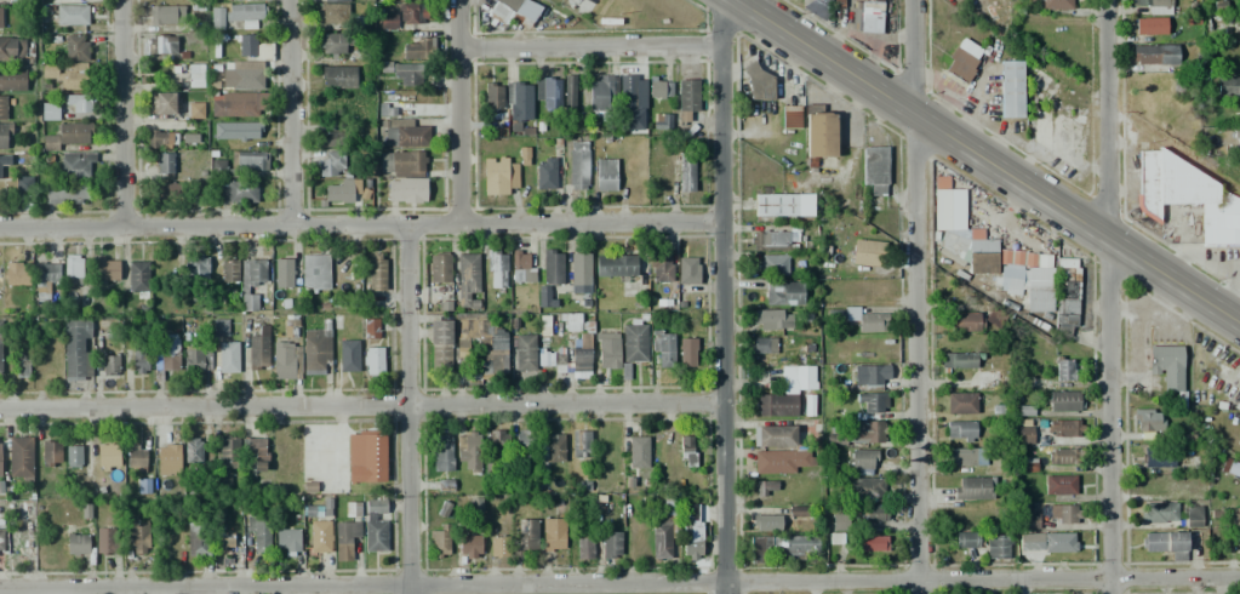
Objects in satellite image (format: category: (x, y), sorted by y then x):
building: (12, 1)
building: (67, 1)
building: (1233, 1)
building: (836, 2)
building: (1055, 4)
building: (819, 5)
building: (1239, 5)
building: (1155, 6)
building: (245, 11)
building: (333, 11)
building: (512, 11)
building: (411, 13)
building: (72, 15)
building: (165, 15)
building: (0, 17)
building: (867, 17)
building: (216, 18)
building: (388, 22)
building: (1150, 25)
building: (1239, 30)
building: (332, 42)
road: (595, 42)
building: (161, 44)
building: (246, 45)
building: (75, 47)
building: (12, 48)
building: (416, 50)
building: (1154, 58)
building: (962, 61)
building: (404, 74)
building: (195, 75)
building: (242, 75)
building: (75, 76)
building: (338, 76)
building: (12, 80)
building: (759, 82)
building: (1228, 85)
building: (659, 86)
building: (1179, 86)
building: (1010, 88)
building: (628, 91)
building: (568, 92)
building: (600, 92)
building: (548, 93)
building: (492, 95)
building: (686, 98)
building: (518, 102)
building: (80, 103)
building: (162, 103)
building: (234, 104)
building: (2, 107)
road: (467, 109)
building: (48, 110)
building: (195, 110)
building: (385, 110)
road: (126, 114)
road: (295, 114)
building: (790, 116)
building: (661, 120)
building: (242, 130)
building: (818, 132)
building: (402, 133)
building: (5, 135)
building: (67, 136)
building: (156, 138)
building: (332, 138)
building: (1236, 141)
building: (522, 156)
road: (992, 158)
building: (4, 160)
building: (248, 160)
building: (164, 162)
building: (330, 164)
building: (577, 164)
building: (75, 165)
building: (217, 166)
building: (875, 171)
building: (544, 172)
building: (686, 172)
building: (605, 173)
building: (0, 176)
building: (405, 176)
building: (499, 176)
building: (24, 184)
building: (341, 190)
building: (166, 192)
building: (238, 192)
building: (65, 193)
building: (1185, 195)
building: (775, 205)
building: (949, 209)
road: (360, 223)
building: (770, 236)
building: (970, 251)
building: (867, 256)
building: (553, 265)
building: (615, 265)
building: (772, 265)
building: (521, 267)
building: (663, 267)
building: (439, 268)
building: (73, 269)
building: (194, 269)
building: (228, 269)
building: (496, 269)
building: (105, 270)
building: (688, 270)
building: (314, 272)
building: (376, 272)
building: (13, 273)
building: (253, 273)
building: (284, 273)
building: (578, 274)
building: (137, 276)
building: (44, 279)
building: (1010, 279)
building: (467, 280)
building: (1039, 289)
building: (1065, 292)
building: (783, 293)
road: (721, 296)
road: (922, 296)
road: (1113, 296)
building: (543, 297)
building: (445, 305)
building: (865, 316)
building: (995, 318)
building: (772, 319)
building: (964, 321)
building: (218, 327)
building: (370, 329)
building: (472, 339)
building: (634, 341)
building: (0, 344)
building: (761, 344)
building: (439, 345)
building: (76, 349)
building: (257, 349)
building: (607, 349)
building: (316, 350)
building: (665, 350)
building: (524, 352)
building: (686, 352)
building: (22, 353)
building: (498, 353)
building: (347, 355)
building: (165, 358)
building: (196, 358)
building: (228, 358)
building: (138, 359)
building: (286, 360)
building: (559, 360)
building: (958, 360)
building: (372, 361)
building: (581, 361)
building: (109, 365)
building: (1064, 369)
building: (1167, 370)
building: (872, 376)
building: (798, 378)
building: (985, 378)
building: (1064, 400)
building: (873, 401)
building: (960, 404)
road: (361, 405)
building: (775, 405)
road: (408, 407)
building: (1148, 421)
building: (1063, 428)
building: (961, 430)
building: (865, 432)
building: (1023, 433)
building: (784, 434)
building: (579, 444)
building: (497, 445)
building: (525, 445)
building: (468, 449)
building: (552, 449)
building: (193, 450)
building: (228, 451)
building: (638, 451)
building: (687, 451)
building: (255, 452)
building: (48, 453)
building: (441, 453)
building: (73, 455)
building: (1063, 456)
building: (19, 457)
building: (108, 457)
building: (366, 457)
building: (959, 457)
building: (1156, 457)
building: (135, 458)
building: (862, 458)
building: (168, 459)
building: (783, 462)
building: (1233, 468)
building: (1058, 486)
building: (764, 487)
building: (972, 487)
building: (863, 489)
building: (376, 504)
building: (868, 513)
building: (1158, 513)
building: (1064, 514)
building: (1192, 515)
building: (1235, 515)
building: (1028, 521)
building: (765, 522)
building: (665, 530)
building: (691, 530)
building: (258, 531)
building: (552, 533)
building: (319, 536)
building: (375, 536)
building: (524, 536)
building: (137, 537)
building: (196, 539)
building: (286, 539)
building: (343, 539)
building: (439, 539)
building: (582, 539)
building: (966, 539)
building: (105, 541)
building: (1238, 541)
building: (223, 542)
building: (1046, 542)
building: (1, 543)
building: (873, 543)
building: (1165, 543)
building: (75, 544)
building: (798, 544)
building: (497, 546)
building: (611, 546)
building: (467, 547)
building: (998, 547)
building: (759, 548)
road: (619, 586)

